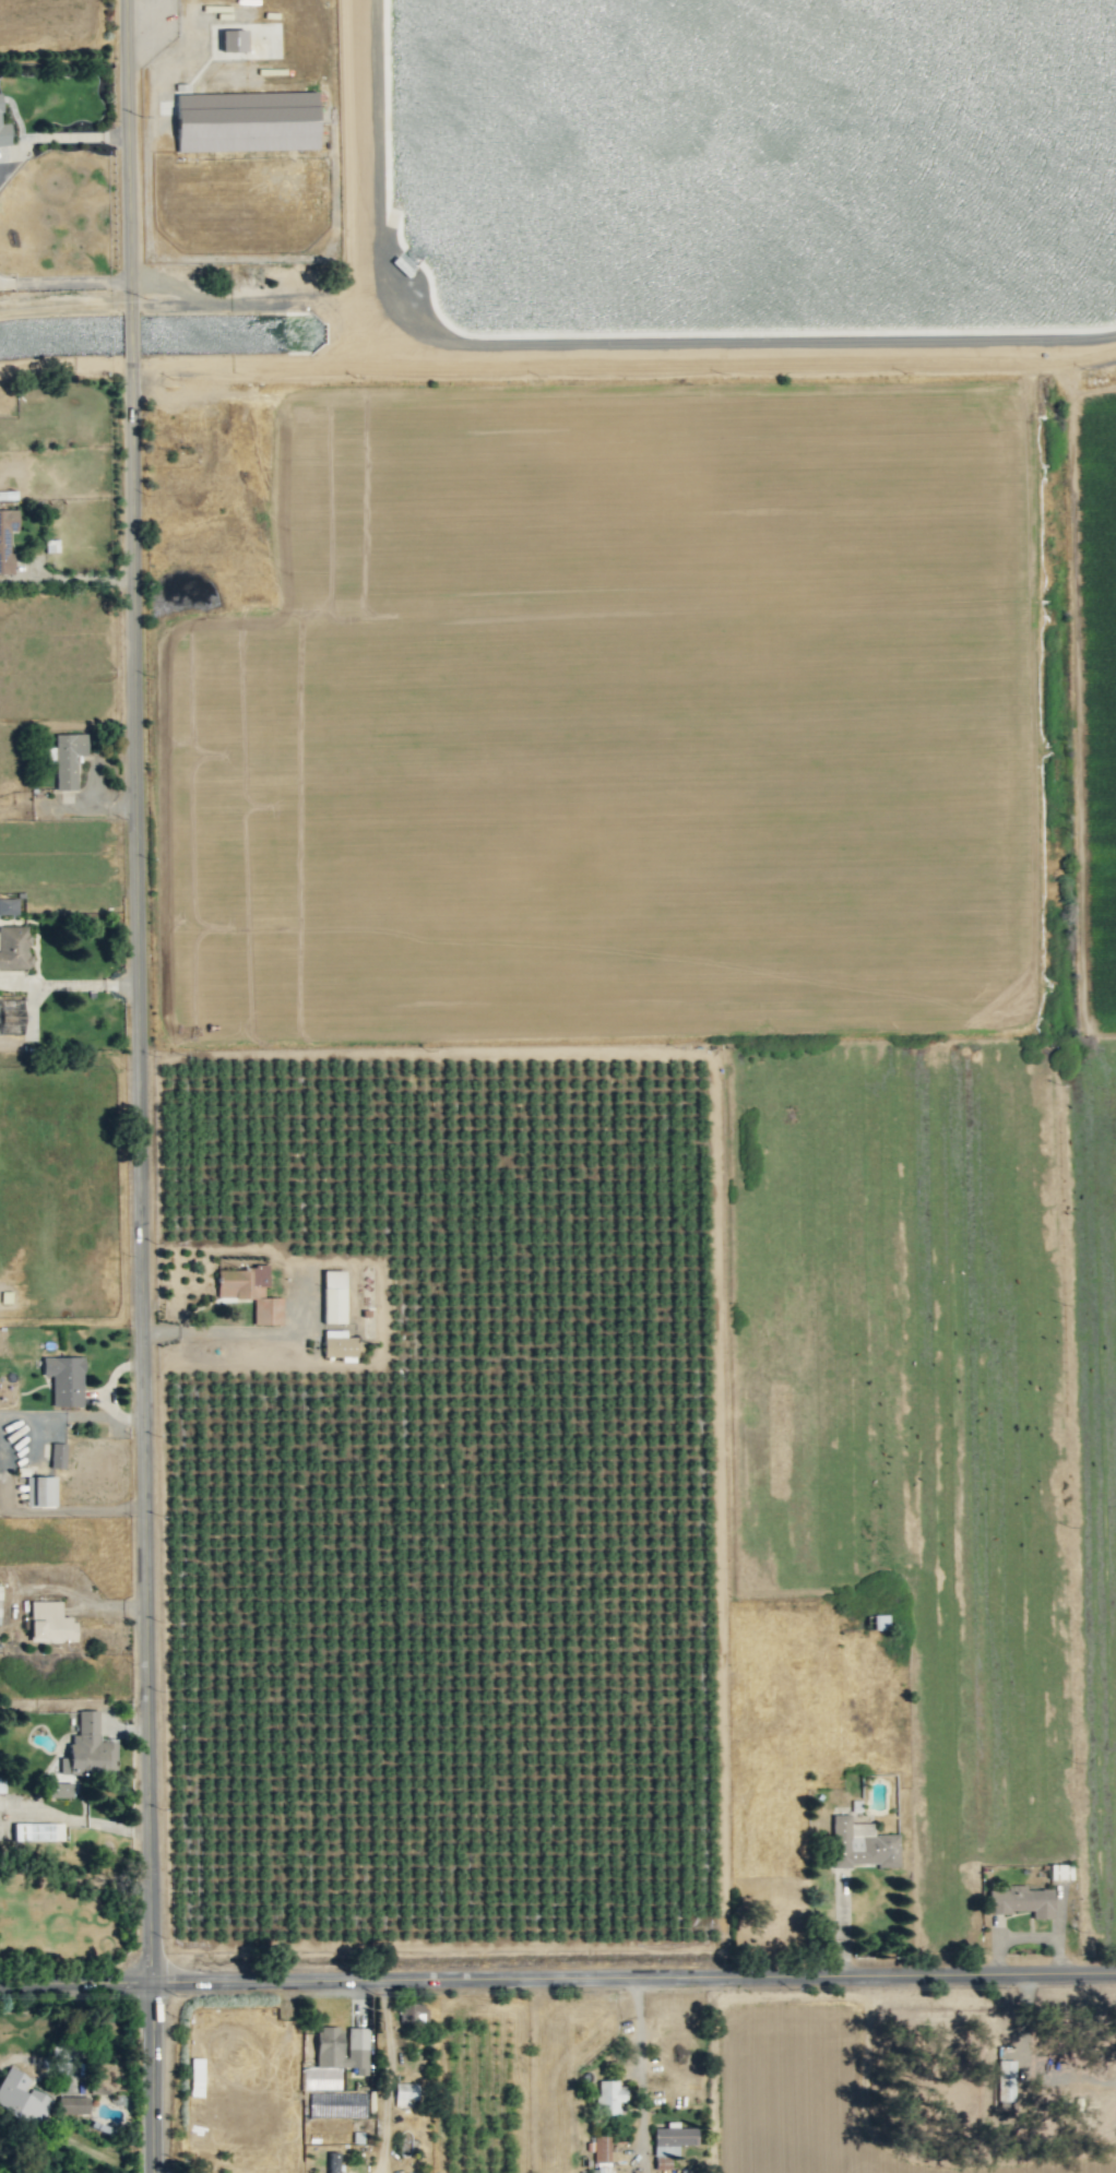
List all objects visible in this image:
road: (150, 20)
building: (231, 40)
building: (246, 121)
building: (3, 133)
road: (54, 136)
road: (63, 282)
road: (621, 366)
building: (7, 538)
road: (80, 575)
building: (68, 759)
building: (8, 905)
building: (14, 947)
building: (17, 1007)
road: (140, 1086)
building: (333, 1296)
road: (244, 1332)
building: (337, 1344)
building: (64, 1379)
building: (58, 1456)
building: (40, 1491)
building: (50, 1623)
building: (88, 1749)
building: (60, 1790)
building: (37, 1831)
building: (860, 1844)
building: (1058, 1871)
building: (1021, 1901)
road: (558, 1981)
building: (411, 2011)
building: (328, 2041)
building: (195, 2076)
road: (389, 2077)
road: (640, 2077)
road: (1072, 2078)
building: (320, 2079)
building: (1005, 2080)
building: (405, 2094)
building: (610, 2097)
building: (21, 2098)
building: (72, 2104)
building: (670, 2142)
building: (602, 2154)
building: (333, 2162)

